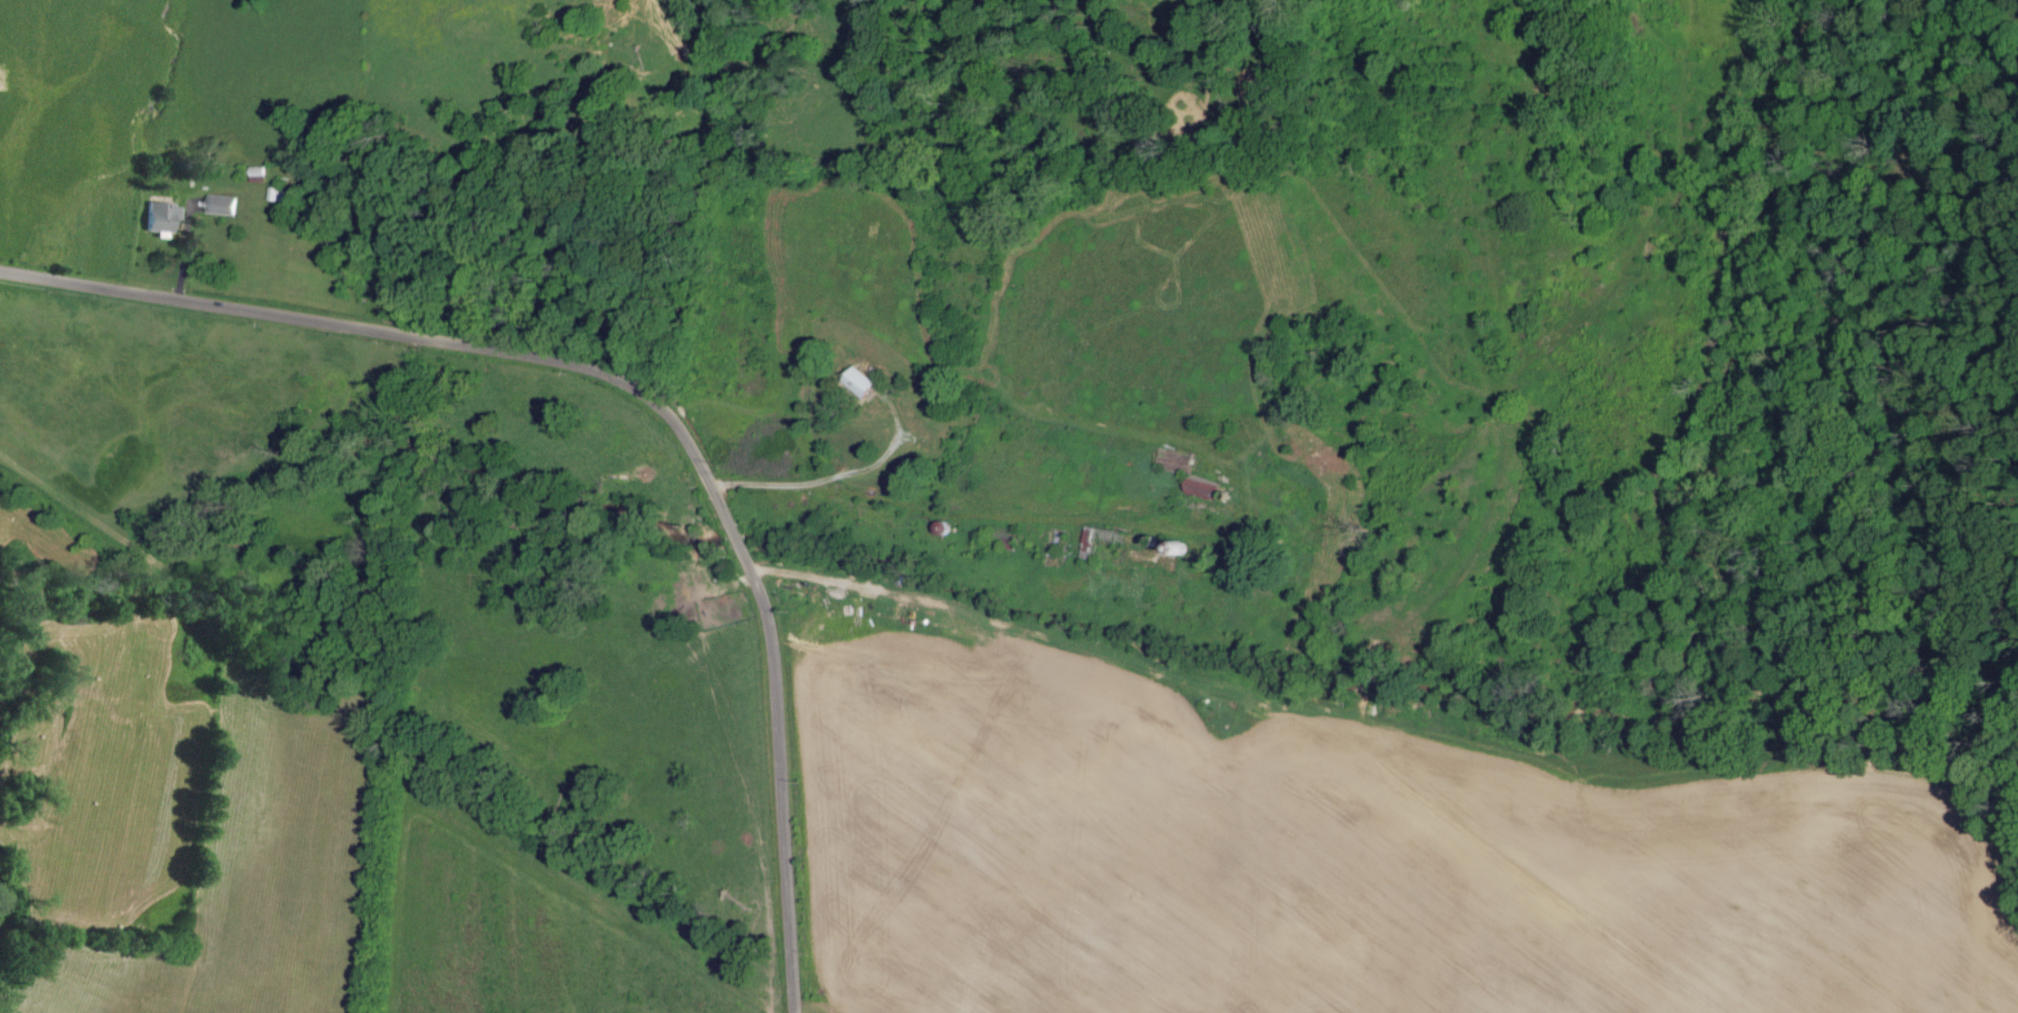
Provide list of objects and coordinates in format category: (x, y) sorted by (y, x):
building: (222, 203)
building: (162, 216)
building: (861, 381)
road: (640, 395)
building: (1205, 486)

